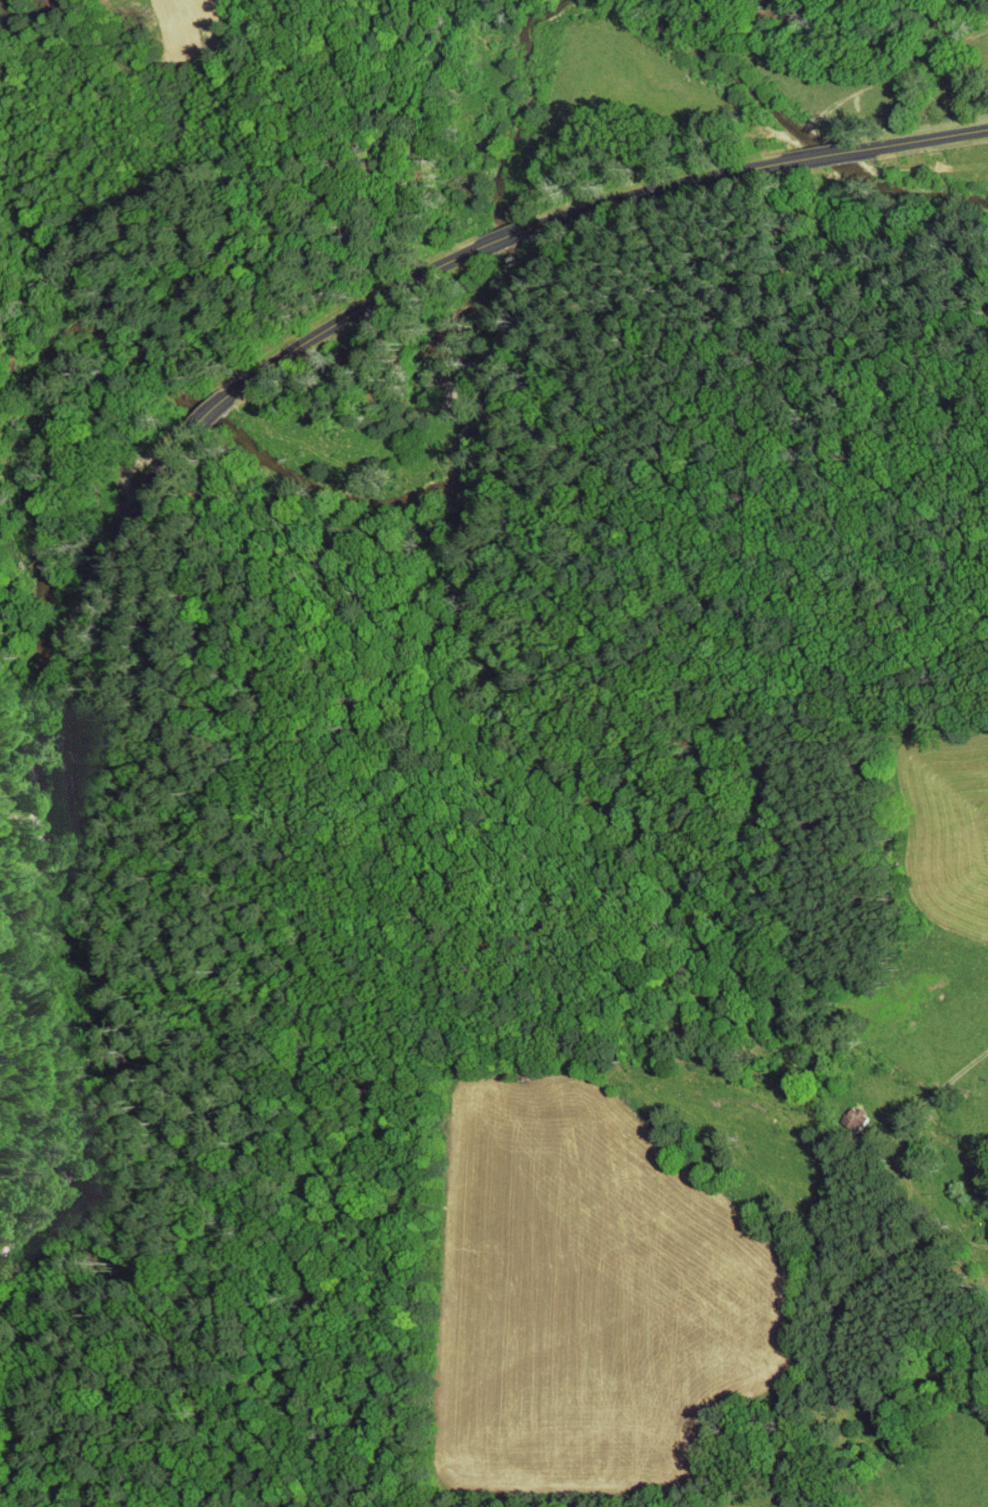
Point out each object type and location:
road: (164, 458)
road: (345, 893)
road: (945, 1087)

